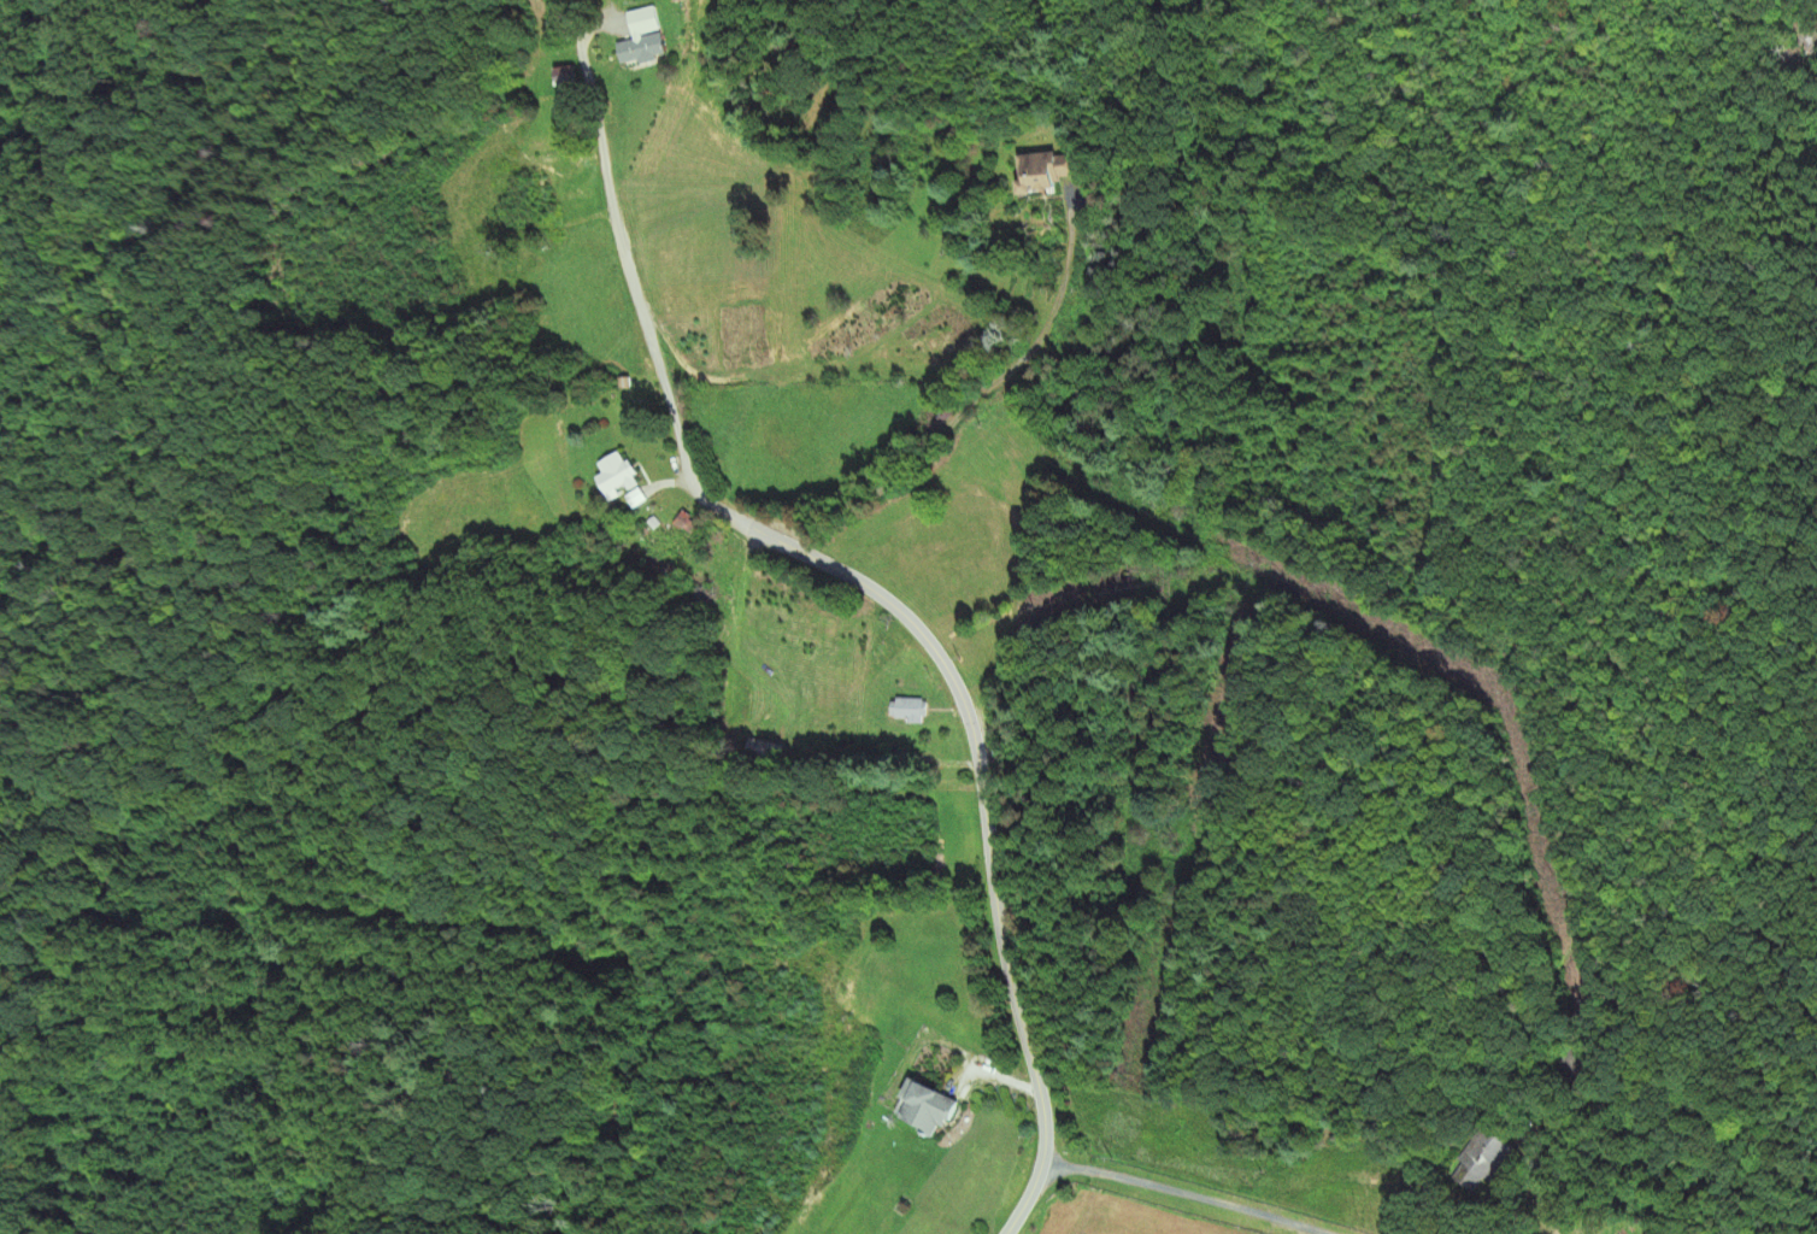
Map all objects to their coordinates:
building: (648, 40)
building: (566, 78)
building: (1049, 174)
road: (624, 243)
building: (618, 478)
building: (636, 499)
building: (689, 531)
building: (908, 712)
road: (981, 795)
building: (929, 1109)
building: (1483, 1160)
road: (1189, 1194)

